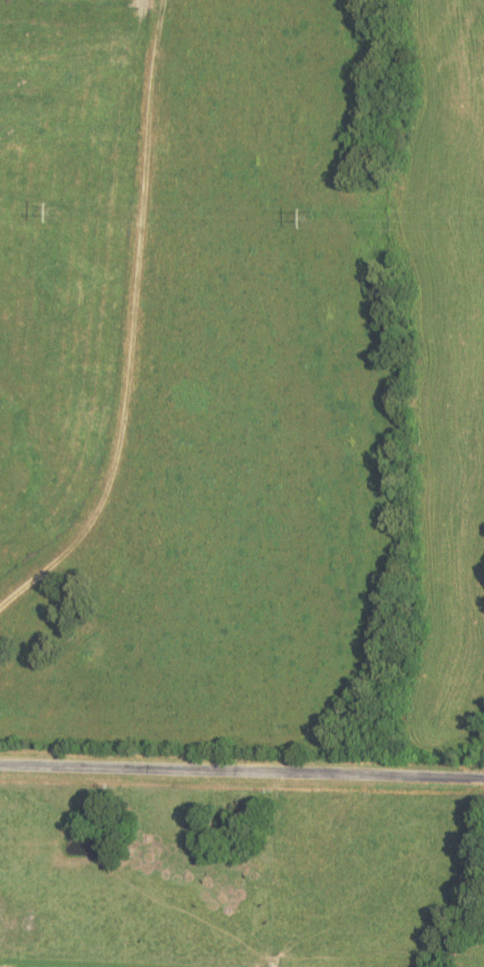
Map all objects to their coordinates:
road: (148, 141)
power tower: (307, 216)
road: (109, 467)
road: (242, 771)

